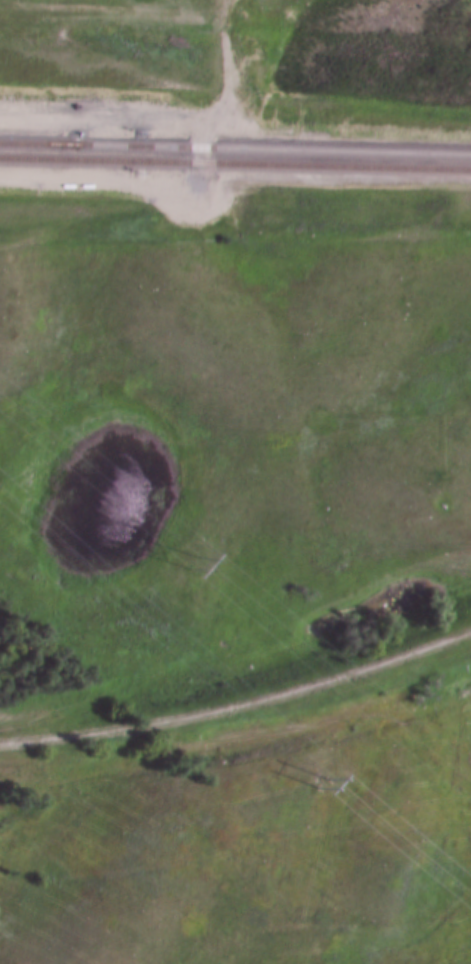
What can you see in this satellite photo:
railway: (36, 135)
railway: (36, 137)
railway: (272, 138)
railway: (235, 164)
road: (188, 194)
power tower: (196, 563)

